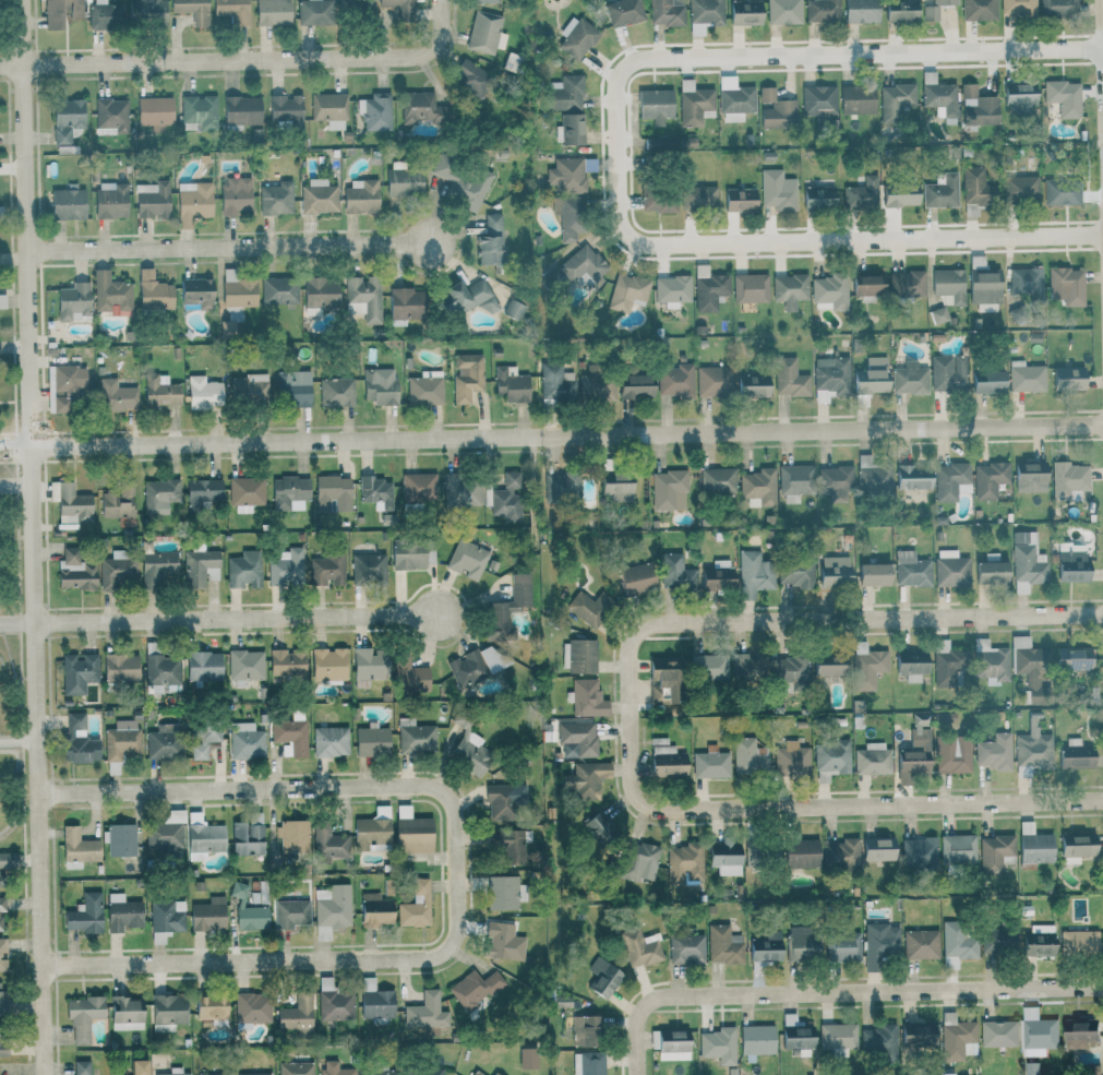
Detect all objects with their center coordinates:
building: (483, 1)
building: (397, 8)
building: (1058, 8)
building: (356, 9)
building: (1018, 9)
building: (192, 10)
building: (934, 10)
building: (978, 10)
building: (232, 11)
building: (783, 11)
building: (822, 11)
building: (860, 11)
building: (61, 12)
building: (146, 12)
building: (273, 12)
building: (314, 12)
building: (623, 12)
building: (706, 12)
building: (744, 12)
building: (900, 12)
building: (666, 13)
building: (106, 14)
road: (1102, 24)
building: (484, 33)
building: (576, 38)
road: (818, 55)
road: (242, 61)
building: (470, 80)
building: (565, 93)
building: (938, 96)
building: (1018, 97)
building: (734, 99)
building: (1062, 99)
building: (858, 100)
building: (895, 101)
building: (694, 104)
building: (655, 105)
building: (820, 105)
building: (417, 107)
building: (978, 108)
building: (328, 109)
building: (286, 110)
building: (776, 110)
building: (240, 111)
building: (155, 112)
building: (199, 112)
building: (375, 112)
building: (110, 116)
building: (67, 119)
building: (570, 130)
building: (687, 142)
building: (566, 175)
building: (461, 180)
building: (404, 182)
building: (976, 187)
building: (777, 190)
building: (1020, 190)
building: (940, 191)
building: (1062, 191)
building: (862, 193)
building: (900, 194)
building: (235, 195)
building: (361, 196)
building: (317, 198)
building: (818, 198)
building: (275, 199)
building: (699, 199)
building: (110, 200)
building: (152, 200)
building: (658, 200)
building: (740, 200)
building: (192, 203)
building: (68, 204)
building: (568, 217)
building: (489, 241)
road: (820, 241)
road: (230, 248)
building: (582, 265)
building: (1027, 283)
building: (907, 284)
building: (983, 284)
building: (948, 285)
building: (865, 286)
building: (1066, 286)
building: (708, 288)
building: (750, 288)
building: (237, 289)
building: (279, 290)
building: (672, 290)
building: (790, 290)
building: (153, 291)
building: (196, 292)
building: (320, 292)
building: (626, 292)
building: (829, 292)
building: (110, 294)
building: (467, 297)
building: (363, 298)
building: (2, 301)
building: (73, 302)
building: (405, 303)
building: (938, 315)
building: (227, 326)
building: (947, 372)
building: (467, 375)
building: (871, 375)
building: (1024, 377)
building: (1067, 377)
building: (789, 378)
building: (830, 378)
building: (909, 379)
building: (554, 381)
building: (675, 381)
building: (714, 381)
building: (987, 381)
building: (597, 383)
building: (511, 384)
building: (752, 384)
building: (380, 385)
building: (63, 386)
building: (636, 386)
building: (424, 387)
building: (249, 389)
building: (292, 389)
building: (159, 391)
building: (203, 392)
building: (336, 392)
building: (116, 396)
road: (551, 434)
building: (874, 475)
building: (912, 477)
building: (1030, 477)
building: (988, 478)
building: (717, 480)
building: (1069, 480)
building: (794, 481)
building: (835, 481)
building: (950, 481)
road: (17, 485)
building: (560, 486)
building: (418, 487)
building: (758, 487)
building: (668, 489)
building: (460, 490)
building: (288, 491)
building: (376, 491)
building: (201, 492)
building: (331, 492)
building: (245, 493)
building: (159, 494)
building: (505, 497)
building: (118, 500)
road: (35, 537)
building: (411, 554)
building: (467, 559)
building: (1027, 562)
building: (158, 565)
building: (200, 566)
building: (1071, 566)
building: (286, 568)
building: (368, 568)
building: (244, 569)
building: (327, 569)
building: (950, 569)
building: (118, 570)
building: (911, 570)
building: (74, 571)
building: (795, 571)
building: (834, 571)
building: (675, 572)
building: (991, 572)
building: (754, 574)
building: (873, 574)
building: (717, 575)
building: (636, 578)
building: (508, 604)
building: (585, 609)
road: (241, 619)
road: (825, 620)
road: (19, 623)
building: (578, 656)
building: (1072, 659)
building: (990, 661)
building: (286, 662)
building: (327, 664)
building: (369, 664)
building: (478, 664)
building: (244, 665)
building: (828, 665)
building: (910, 665)
building: (203, 666)
building: (866, 666)
building: (120, 667)
building: (708, 667)
building: (746, 667)
building: (1031, 668)
building: (789, 671)
building: (77, 672)
building: (160, 672)
building: (408, 676)
building: (662, 682)
building: (587, 697)
building: (290, 734)
building: (415, 737)
building: (203, 738)
building: (576, 739)
road: (20, 740)
building: (121, 740)
building: (371, 740)
building: (77, 741)
building: (245, 741)
building: (329, 741)
building: (163, 742)
building: (914, 748)
building: (1032, 749)
building: (994, 752)
building: (470, 753)
building: (1075, 754)
building: (748, 757)
building: (950, 757)
building: (666, 759)
building: (831, 759)
building: (790, 760)
building: (872, 760)
building: (710, 763)
building: (585, 779)
road: (20, 789)
road: (283, 789)
building: (500, 801)
road: (825, 805)
building: (598, 827)
building: (370, 832)
building: (165, 834)
building: (412, 834)
building: (247, 836)
building: (292, 836)
building: (204, 838)
building: (119, 839)
building: (505, 840)
building: (327, 845)
building: (1034, 846)
building: (1076, 847)
building: (77, 848)
building: (877, 848)
building: (957, 848)
building: (840, 852)
building: (919, 852)
building: (994, 852)
building: (801, 853)
building: (724, 858)
building: (7, 861)
building: (637, 862)
building: (684, 862)
building: (501, 892)
building: (415, 905)
building: (2, 906)
building: (332, 906)
building: (248, 910)
building: (374, 910)
building: (121, 912)
building: (291, 913)
building: (84, 915)
building: (207, 915)
building: (165, 919)
building: (503, 941)
building: (999, 941)
building: (1039, 941)
building: (957, 942)
building: (1078, 942)
building: (722, 944)
building: (802, 944)
building: (879, 944)
building: (921, 944)
building: (765, 945)
building: (639, 947)
building: (842, 947)
building: (685, 948)
building: (2, 955)
road: (287, 959)
building: (603, 977)
building: (475, 988)
road: (836, 992)
building: (2, 999)
building: (334, 1002)
building: (375, 1002)
building: (562, 1002)
building: (209, 1006)
building: (251, 1010)
building: (167, 1012)
building: (425, 1012)
building: (125, 1013)
building: (296, 1013)
building: (82, 1016)
building: (585, 1030)
building: (998, 1032)
building: (1036, 1032)
building: (1080, 1034)
building: (795, 1035)
building: (918, 1035)
building: (837, 1038)
building: (957, 1038)
building: (756, 1039)
building: (876, 1040)
building: (716, 1041)
building: (670, 1044)
building: (2, 1046)
building: (527, 1058)
building: (588, 1063)
building: (81, 1067)
building: (139, 1067)
building: (295, 1068)
building: (334, 1068)
building: (1031, 1068)
building: (173, 1072)
building: (379, 1072)
building: (423, 1072)
building: (476, 1073)
building: (494, 1073)
building: (214, 1074)
building: (254, 1074)

